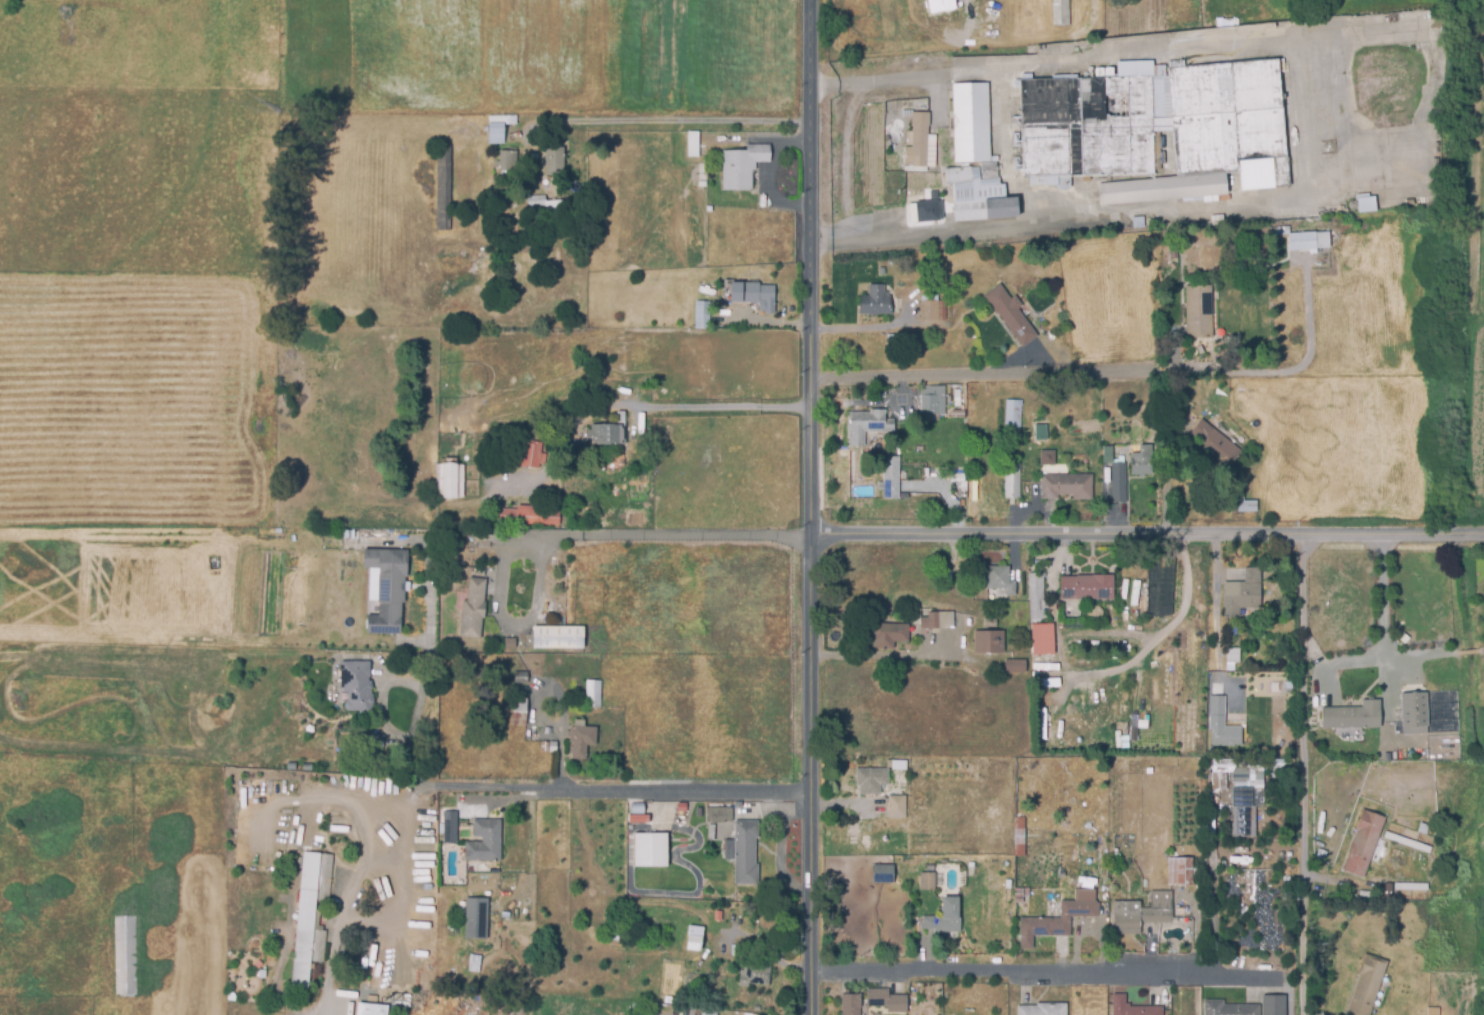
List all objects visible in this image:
building: (939, 5)
building: (1061, 12)
building: (1177, 63)
road: (1304, 119)
road: (655, 121)
building: (498, 128)
building: (1158, 128)
building: (922, 142)
building: (694, 143)
building: (508, 159)
building: (977, 159)
building: (556, 160)
building: (743, 165)
building: (702, 183)
building: (444, 188)
building: (545, 203)
building: (1368, 204)
building: (930, 210)
building: (1138, 221)
building: (1088, 227)
building: (529, 235)
building: (1310, 240)
building: (464, 254)
building: (532, 264)
building: (489, 265)
building: (881, 270)
building: (740, 275)
building: (706, 284)
building: (756, 294)
building: (873, 303)
building: (933, 307)
building: (1199, 311)
building: (703, 314)
building: (1011, 314)
building: (739, 324)
building: (893, 343)
road: (1014, 374)
building: (602, 377)
building: (604, 394)
building: (932, 400)
road: (721, 406)
building: (958, 413)
building: (1014, 413)
building: (868, 425)
building: (1041, 431)
building: (608, 432)
building: (1216, 445)
building: (532, 454)
building: (1108, 454)
building: (1045, 457)
building: (1143, 460)
building: (634, 467)
building: (575, 469)
building: (926, 472)
building: (892, 477)
building: (450, 480)
building: (1012, 482)
building: (1119, 483)
building: (1068, 485)
building: (430, 492)
building: (1241, 506)
road: (809, 507)
building: (529, 515)
building: (473, 518)
road: (1013, 533)
building: (963, 576)
building: (1001, 580)
building: (488, 584)
building: (1088, 587)
building: (388, 589)
building: (1158, 590)
building: (1247, 590)
building: (1037, 596)
road: (1215, 599)
road: (1385, 599)
building: (474, 609)
road: (500, 618)
building: (932, 619)
building: (990, 621)
road: (1164, 631)
building: (889, 634)
building: (559, 637)
building: (990, 642)
building: (510, 643)
building: (1041, 643)
road: (873, 655)
building: (1253, 657)
building: (1234, 659)
building: (410, 663)
building: (1016, 666)
building: (1047, 667)
building: (521, 677)
building: (358, 685)
building: (593, 693)
building: (1218, 706)
building: (1413, 709)
building: (520, 710)
building: (1355, 717)
building: (1223, 735)
building: (581, 738)
building: (376, 740)
building: (545, 746)
building: (553, 746)
road: (408, 749)
building: (1241, 773)
road: (1301, 774)
building: (877, 776)
road: (676, 794)
building: (898, 806)
building: (1245, 810)
building: (637, 811)
building: (697, 811)
building: (720, 814)
building: (451, 827)
building: (712, 828)
building: (1424, 828)
building: (1020, 836)
building: (486, 841)
building: (1365, 842)
building: (1408, 842)
building: (652, 849)
building: (746, 852)
building: (456, 854)
building: (1322, 854)
building: (728, 855)
building: (1180, 871)
building: (882, 876)
building: (928, 880)
building: (1072, 880)
road: (1211, 881)
building: (1411, 886)
road: (350, 889)
building: (1389, 890)
building: (1021, 893)
building: (1181, 912)
building: (311, 913)
building: (1142, 913)
building: (611, 915)
building: (620, 917)
building: (946, 917)
building: (475, 918)
building: (1059, 918)
building: (695, 938)
road: (768, 951)
building: (621, 955)
building: (125, 958)
road: (1046, 970)
building: (718, 972)
building: (756, 975)
building: (1367, 985)
building: (373, 998)
building: (887, 1000)
building: (852, 1004)
building: (1274, 1005)
building: (1133, 1007)
building: (1230, 1008)
building: (372, 1009)
building: (1044, 1009)
building: (1434, 1011)
building: (710, 1012)
building: (698, 1014)

